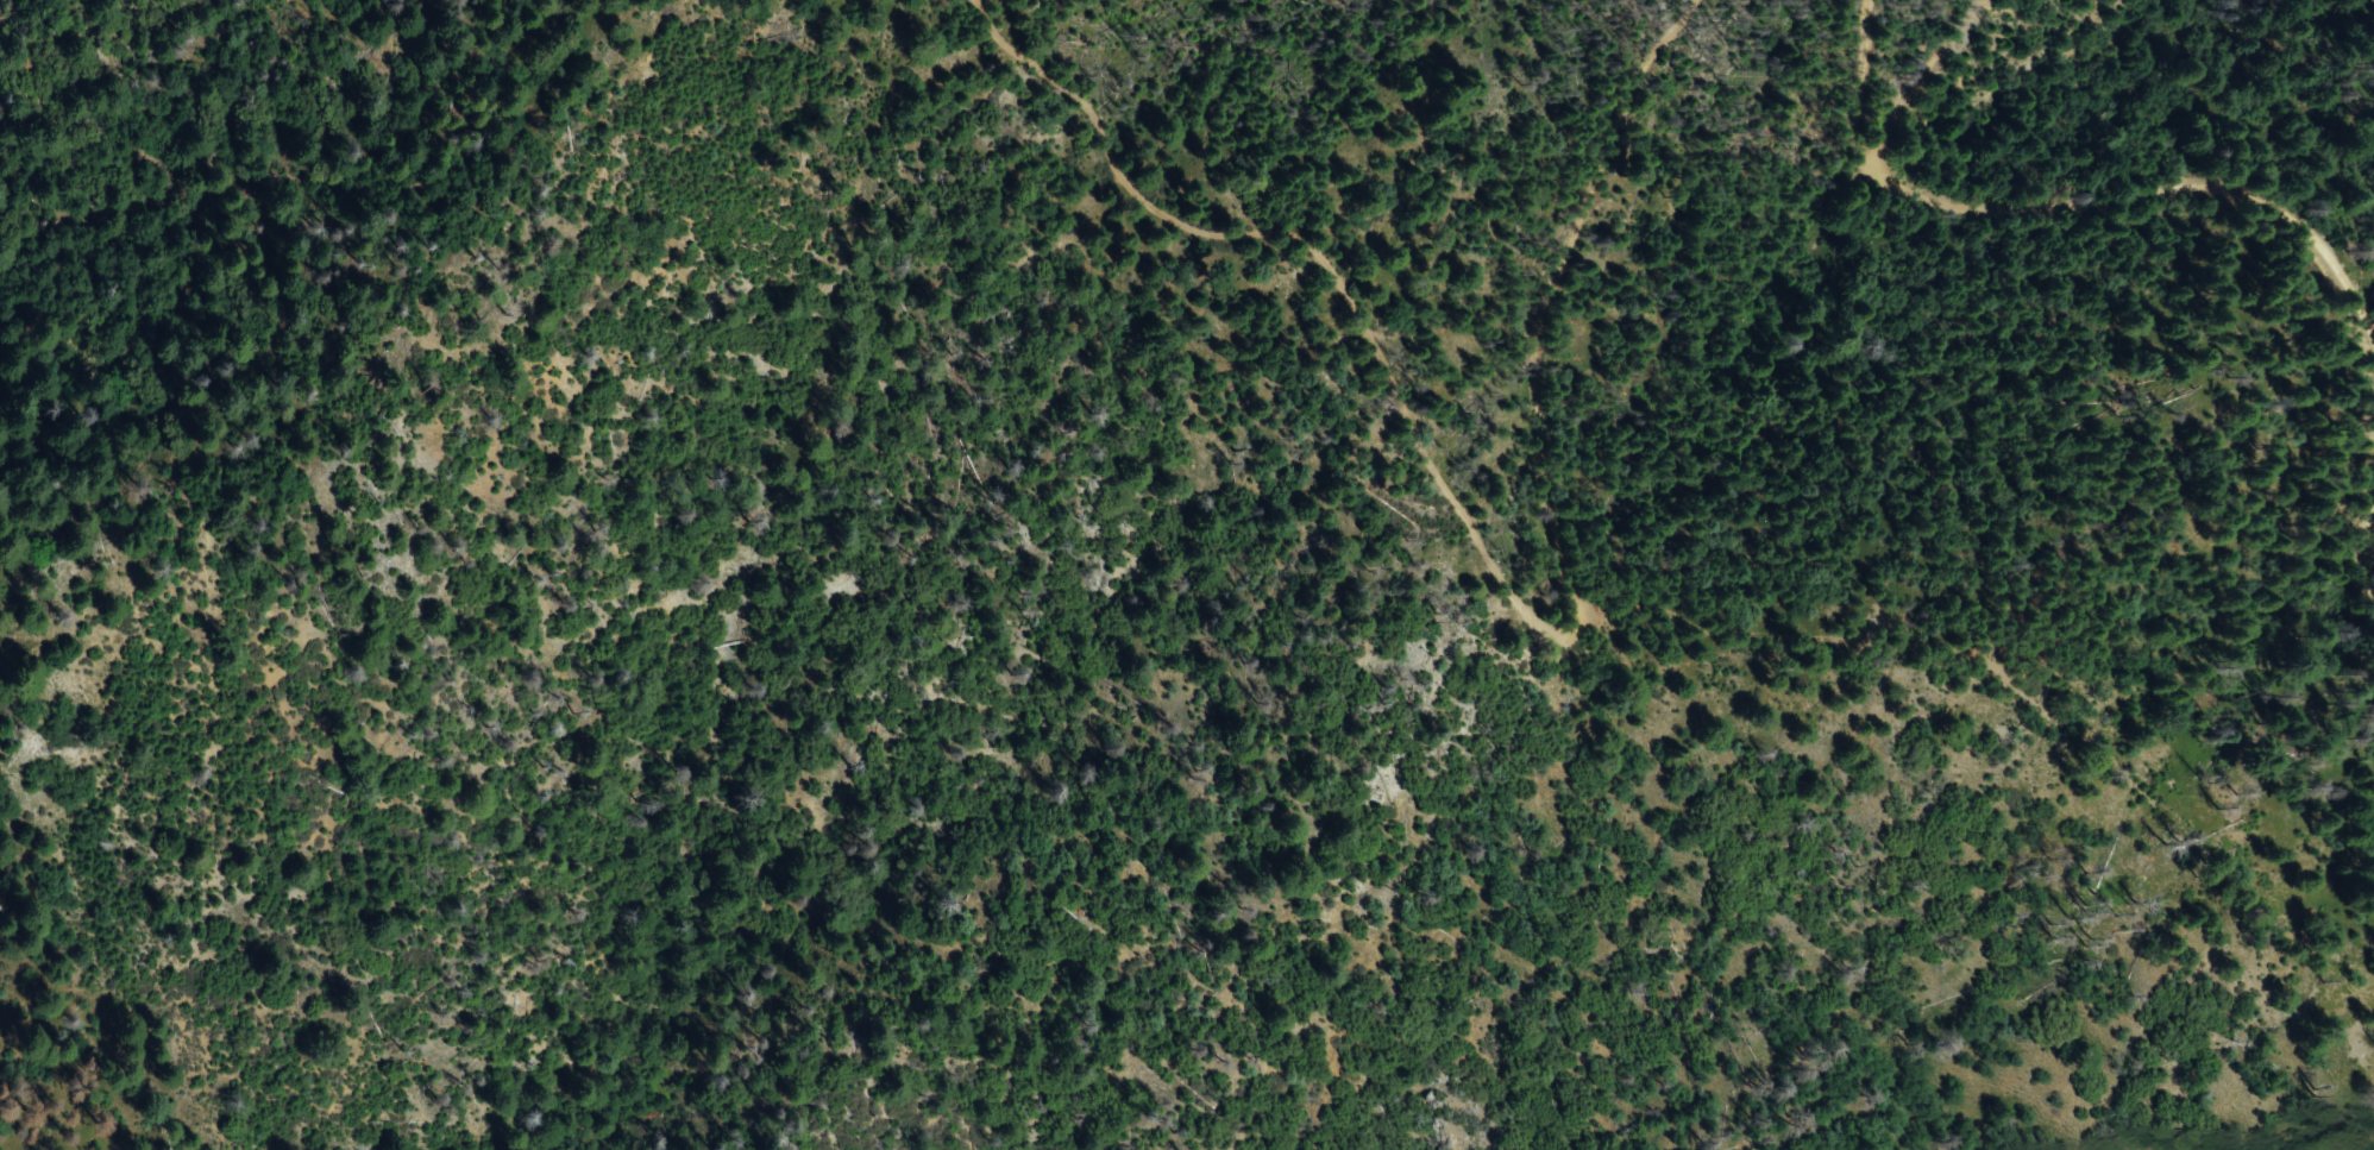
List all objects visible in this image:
road: (2059, 209)
road: (2370, 541)

